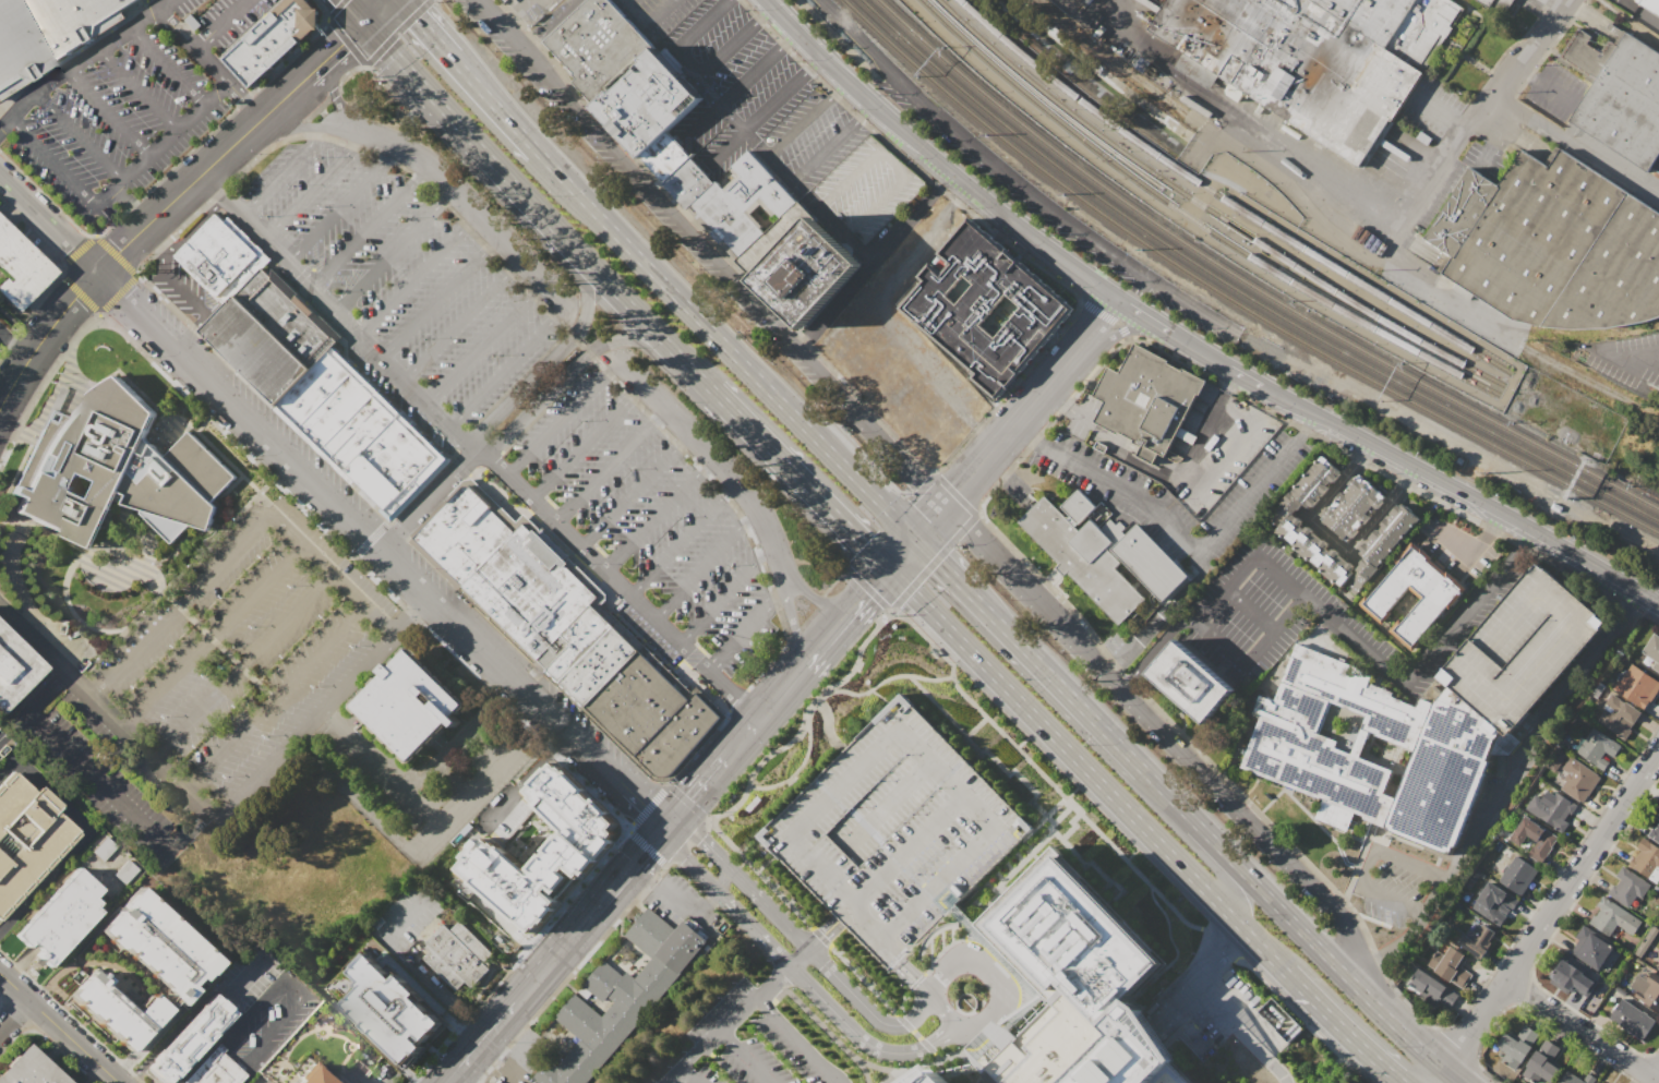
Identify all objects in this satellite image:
building: (504, 0)
building: (1487, 2)
road: (1561, 2)
road: (167, 3)
building: (1650, 4)
road: (517, 5)
road: (354, 11)
road: (377, 12)
road: (762, 13)
road: (503, 19)
road: (553, 19)
traffic signals: (416, 20)
road: (649, 21)
road: (698, 23)
road: (221, 24)
road: (423, 28)
building: (48, 33)
road: (786, 37)
building: (271, 39)
road: (527, 45)
building: (596, 45)
traffic signals: (341, 46)
road: (726, 47)
road: (334, 52)
road: (1528, 53)
building: (1312, 58)
road: (82, 59)
road: (207, 61)
road: (812, 63)
road: (169, 64)
road: (1161, 64)
road: (365, 67)
road: (1528, 68)
road: (750, 72)
road: (697, 74)
road: (1555, 86)
road: (837, 87)
road: (137, 88)
building: (1619, 95)
road: (774, 98)
road: (282, 99)
building: (642, 100)
road: (335, 101)
road: (494, 106)
road: (1440, 110)
road: (107, 111)
road: (863, 111)
parking lot: (776, 115)
road: (1529, 115)
road: (702, 116)
road: (1226, 116)
road: (3, 121)
road: (1487, 121)
road: (1474, 122)
road: (305, 127)
road: (77, 133)
road: (1211, 134)
road: (726, 143)
road: (1492, 148)
building: (663, 155)
road: (892, 160)
road: (934, 160)
road: (782, 165)
road: (1608, 166)
road: (284, 169)
road: (1006, 175)
road: (847, 176)
building: (687, 181)
road: (116, 183)
road: (315, 184)
road: (1314, 186)
road: (806, 191)
road: (521, 192)
road: (1362, 194)
railway: (1225, 200)
road: (923, 201)
road: (344, 203)
road: (876, 203)
building: (742, 204)
road: (666, 207)
railway: (1207, 209)
road: (481, 218)
road: (831, 218)
railway: (1194, 219)
road: (48, 222)
road: (194, 225)
road: (369, 227)
road: (159, 236)
building: (1552, 244)
road: (858, 245)
road: (119, 250)
road: (393, 251)
road: (663, 258)
building: (19, 268)
parking lot: (404, 272)
building: (806, 272)
road: (417, 275)
railway: (1250, 284)
road: (849, 288)
road: (179, 290)
railway: (1239, 291)
road: (1448, 293)
road: (440, 297)
railway: (1229, 299)
building: (985, 309)
road: (1144, 317)
road: (461, 320)
road: (2, 333)
road: (190, 335)
road: (1115, 337)
road: (483, 342)
road: (16, 345)
road: (725, 348)
road: (1635, 353)
road: (548, 362)
road: (507, 366)
road: (1227, 366)
building: (306, 372)
road: (568, 372)
road: (696, 372)
road: (1230, 376)
road: (1057, 395)
road: (262, 399)
building: (1146, 400)
road: (1269, 400)
road: (1031, 401)
road: (1300, 408)
road: (560, 420)
road: (1309, 421)
road: (447, 425)
road: (1024, 431)
road: (585, 444)
road: (1118, 445)
road: (709, 453)
road: (1392, 457)
road: (903, 460)
road: (609, 468)
building: (120, 471)
road: (798, 478)
road: (1187, 482)
traffic signals: (958, 489)
road: (632, 492)
road: (426, 500)
building: (1079, 507)
building: (1351, 508)
building: (1098, 515)
road: (656, 516)
parking lot: (646, 517)
road: (929, 520)
road: (388, 522)
road: (1492, 524)
road: (357, 526)
road: (399, 530)
road: (1183, 536)
road: (406, 538)
road: (371, 539)
road: (681, 540)
building: (1302, 540)
road: (1331, 540)
road: (1524, 540)
traffic signals: (863, 542)
road: (943, 552)
road: (1564, 552)
road: (902, 553)
road: (1463, 553)
building: (1084, 557)
road: (315, 559)
traffic signals: (938, 562)
building: (1150, 564)
road: (702, 565)
road: (941, 565)
road: (365, 568)
road: (876, 581)
traffic signals: (868, 592)
road: (723, 594)
building: (1435, 594)
road: (824, 600)
road: (412, 610)
road: (1249, 611)
road: (1165, 614)
road: (375, 623)
road: (744, 627)
building: (564, 630)
road: (833, 630)
road: (793, 633)
road: (26, 634)
road: (212, 637)
road: (1218, 641)
road: (1159, 642)
parking lot: (244, 646)
parking lot: (1522, 652)
building: (1652, 652)
road: (528, 659)
road: (240, 665)
building: (14, 667)
road: (1396, 675)
road: (885, 679)
road: (1056, 682)
road: (1126, 683)
building: (1190, 685)
building: (1636, 686)
road: (959, 690)
road: (778, 695)
road: (726, 698)
road: (1130, 701)
road: (938, 706)
building: (404, 707)
building: (1616, 717)
road: (1529, 722)
road: (304, 725)
road: (1537, 729)
road: (744, 734)
building: (1288, 738)
road: (1021, 742)
road: (1060, 743)
road: (447, 748)
building: (1597, 748)
road: (729, 751)
road: (1001, 766)
road: (798, 768)
parking lot: (108, 769)
road: (948, 778)
building: (1443, 778)
building: (1578, 779)
road: (845, 782)
road: (658, 783)
road: (694, 791)
traffic signals: (689, 796)
road: (642, 803)
traffic signals: (644, 804)
road: (422, 805)
road: (889, 805)
road: (1056, 805)
building: (1552, 809)
road: (375, 815)
building: (1658, 817)
road: (1044, 820)
road: (624, 822)
road: (628, 827)
road: (626, 829)
road: (1070, 830)
building: (894, 832)
parking lot: (894, 832)
road: (1032, 832)
building: (1654, 832)
road: (624, 834)
building: (26, 835)
road: (83, 838)
traffic signals: (700, 838)
building: (1535, 839)
road: (175, 843)
traffic signals: (645, 849)
road: (910, 850)
road: (466, 852)
road: (1130, 853)
road: (1203, 857)
road: (1367, 858)
building: (1647, 861)
building: (540, 863)
road: (1019, 864)
building: (1517, 875)
road: (741, 880)
road: (616, 881)
road: (1250, 881)
road: (937, 883)
road: (838, 886)
building: (1627, 887)
road: (717, 893)
road: (675, 894)
building: (1493, 903)
road: (1430, 907)
road: (1551, 908)
road: (404, 913)
building: (60, 915)
building: (1613, 917)
road: (818, 931)
road: (821, 937)
road: (826, 938)
building: (1478, 940)
building: (159, 946)
road: (1258, 946)
road: (1175, 947)
building: (1595, 948)
road: (1384, 950)
building: (457, 955)
road: (517, 962)
road: (907, 965)
building: (1451, 965)
road: (780, 966)
building: (1658, 966)
road: (249, 968)
road: (541, 968)
road: (987, 972)
road: (900, 973)
road: (279, 976)
building: (1572, 977)
road: (864, 982)
road: (433, 984)
building: (1072, 987)
road: (1375, 987)
building: (1433, 988)
building: (1648, 989)
building: (621, 995)
road: (237, 1002)
road: (866, 1008)
road: (1216, 1008)
building: (119, 1012)
road: (737, 1013)
road: (946, 1013)
road: (13, 1015)
road: (71, 1016)
building: (1632, 1019)
building: (397, 1020)
road: (905, 1023)
road: (172, 1027)
road: (58, 1028)
road: (1342, 1028)
road: (788, 1030)
road: (1400, 1031)
road: (1580, 1031)
road: (917, 1035)
road: (857, 1036)
parking lot: (759, 1039)
building: (188, 1040)
road: (479, 1040)
building: (1516, 1046)
road: (697, 1048)
road: (929, 1048)
road: (516, 1056)
road: (745, 1057)
road: (502, 1062)
building: (1542, 1063)
building: (214, 1068)
building: (31, 1069)
road: (831, 1072)
road: (1655, 1072)
road: (383, 1074)
parking lot: (690, 1074)
road: (1439, 1075)
road: (1453, 1075)
road: (353, 1076)
road: (674, 1076)
road: (686, 1076)
building: (928, 1076)
building: (318, 1078)
road: (453, 1079)
building: (1575, 1079)
road: (259, 1080)
building: (1596, 1082)

